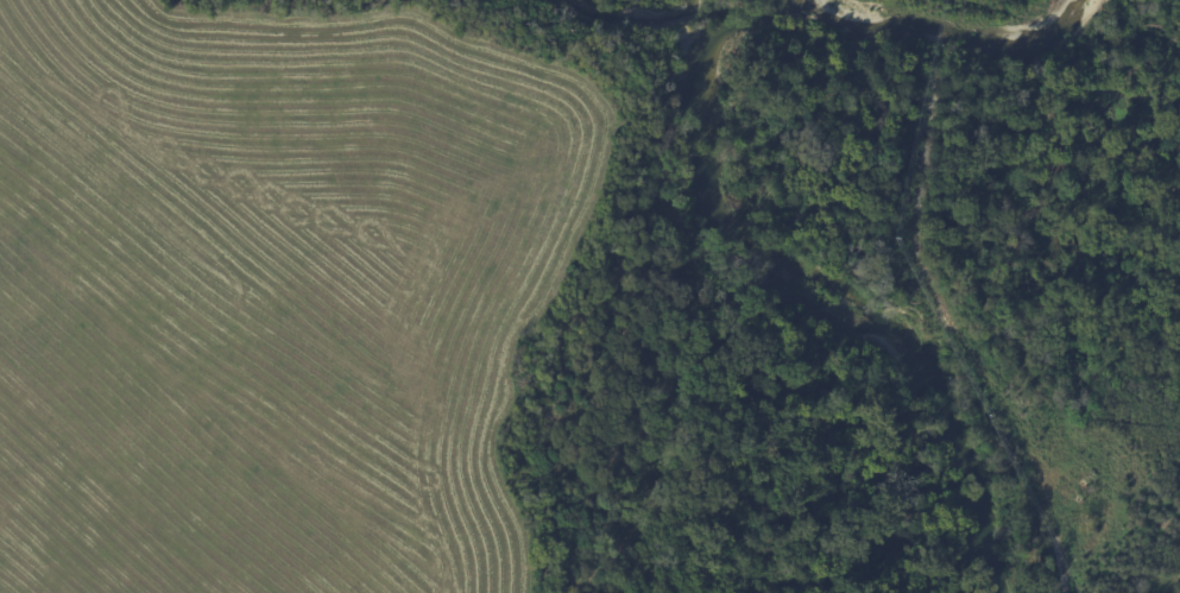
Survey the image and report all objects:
river: (719, 215)
airport: (589, 296)

